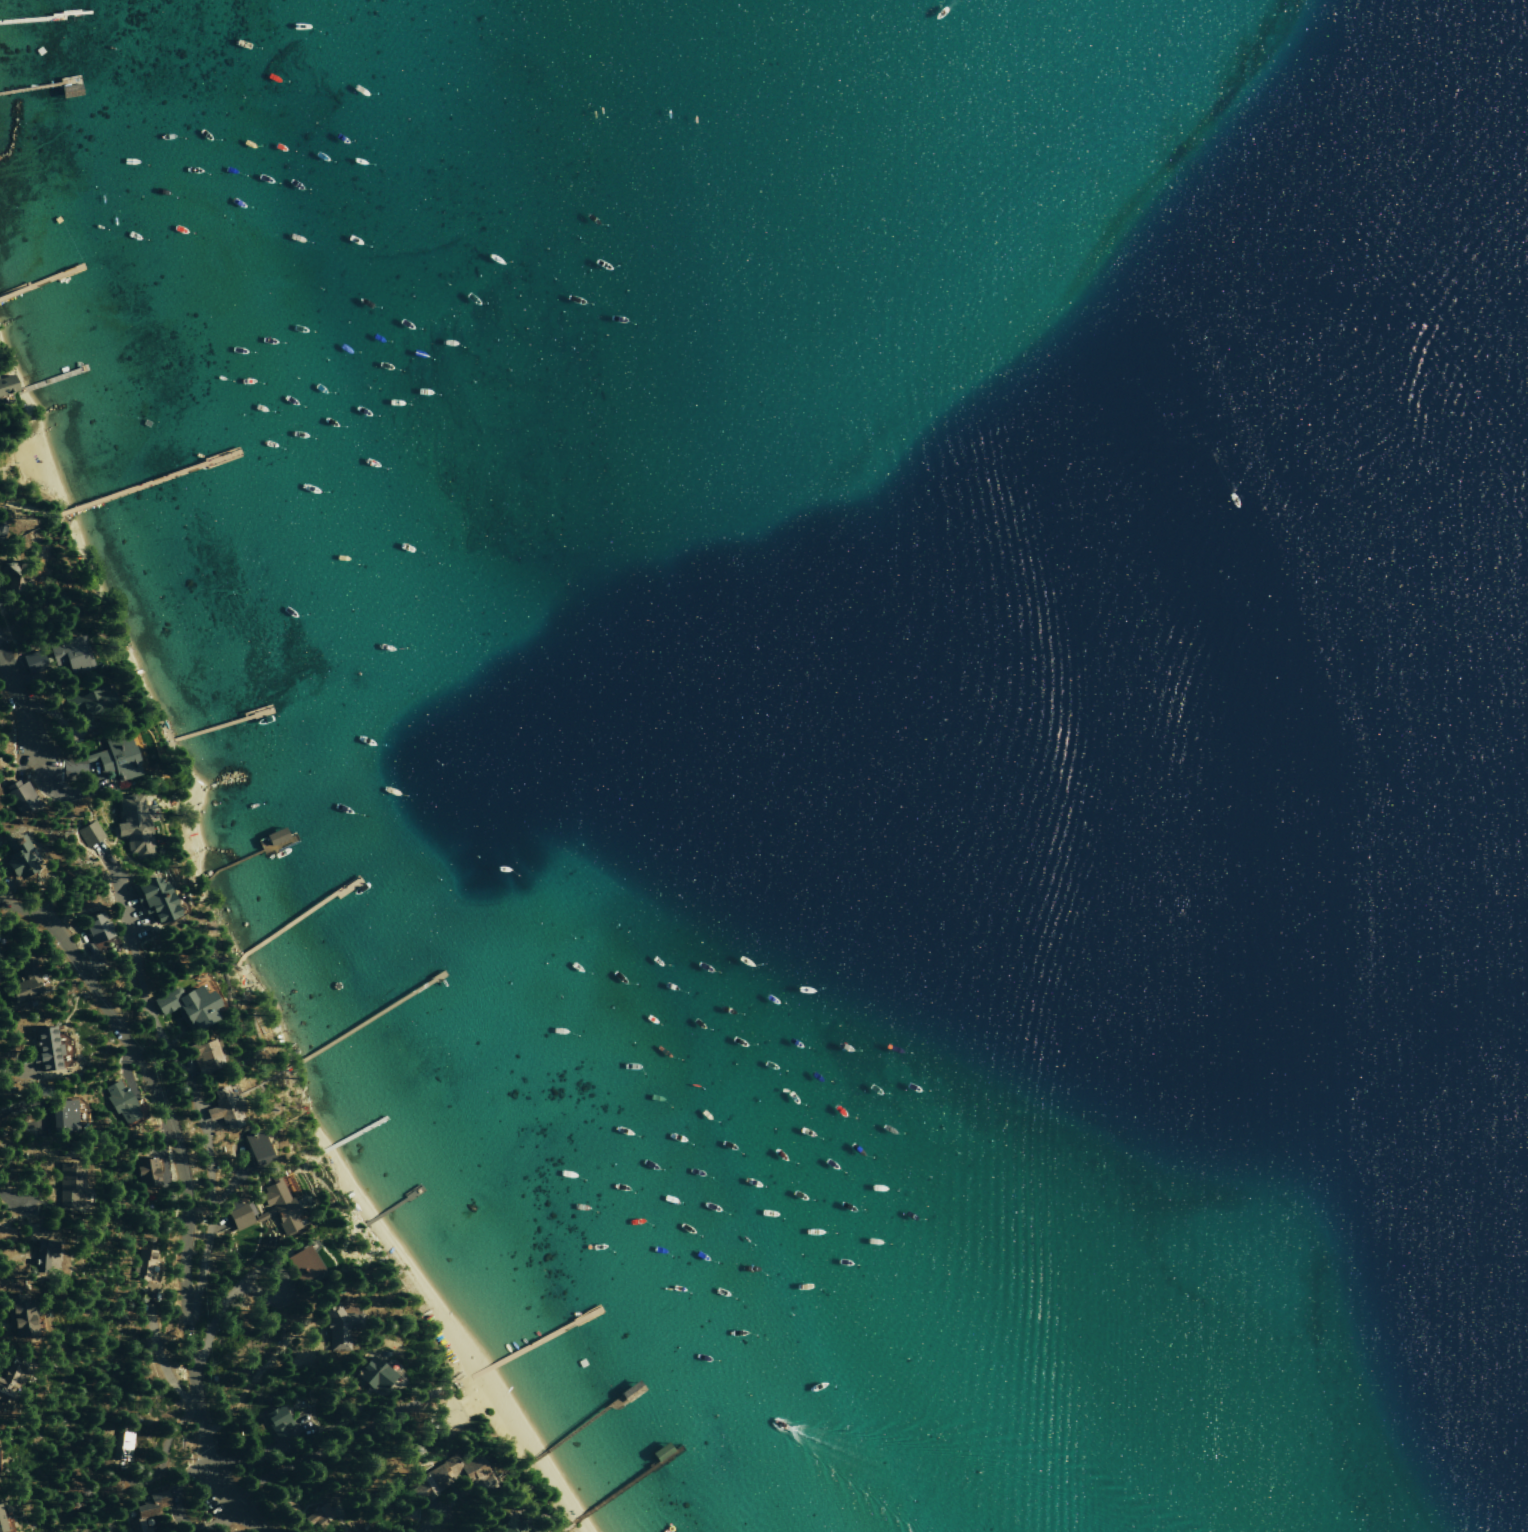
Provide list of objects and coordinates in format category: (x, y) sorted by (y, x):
pier: (44, 15)
pier: (39, 84)
pier: (42, 281)
pier: (50, 380)
building: (6, 385)
road: (4, 467)
park: (28, 475)
pier: (148, 482)
road: (29, 509)
building: (0, 528)
building: (21, 574)
building: (71, 655)
building: (32, 662)
road: (18, 699)
building: (88, 702)
pier: (220, 724)
building: (104, 761)
building: (20, 799)
building: (133, 825)
building: (90, 833)
building: (16, 856)
pier: (250, 856)
building: (152, 898)
pier: (295, 917)
building: (94, 926)
building: (24, 981)
building: (187, 1005)
pier: (363, 1021)
building: (45, 1047)
building: (204, 1054)
building: (120, 1101)
road: (196, 1104)
building: (224, 1107)
building: (62, 1113)
pier: (351, 1134)
building: (255, 1147)
building: (146, 1171)
building: (68, 1183)
road: (184, 1194)
pier: (394, 1205)
building: (282, 1207)
building: (235, 1213)
building: (45, 1255)
building: (142, 1264)
building: (302, 1264)
road: (228, 1294)
building: (18, 1314)
building: (337, 1326)
pier: (535, 1340)
road: (255, 1374)
building: (372, 1374)
building: (9, 1377)
park: (419, 1402)
building: (275, 1421)
road: (343, 1421)
pier: (585, 1422)
road: (352, 1434)
building: (123, 1444)
road: (262, 1453)
building: (445, 1475)
road: (178, 1484)
pier: (620, 1488)
parking lot: (209, 1496)
building: (151, 1504)
building: (317, 1515)
road: (227, 1517)
road: (433, 1518)
building: (4, 1523)
building: (137, 1525)
building: (510, 1526)

